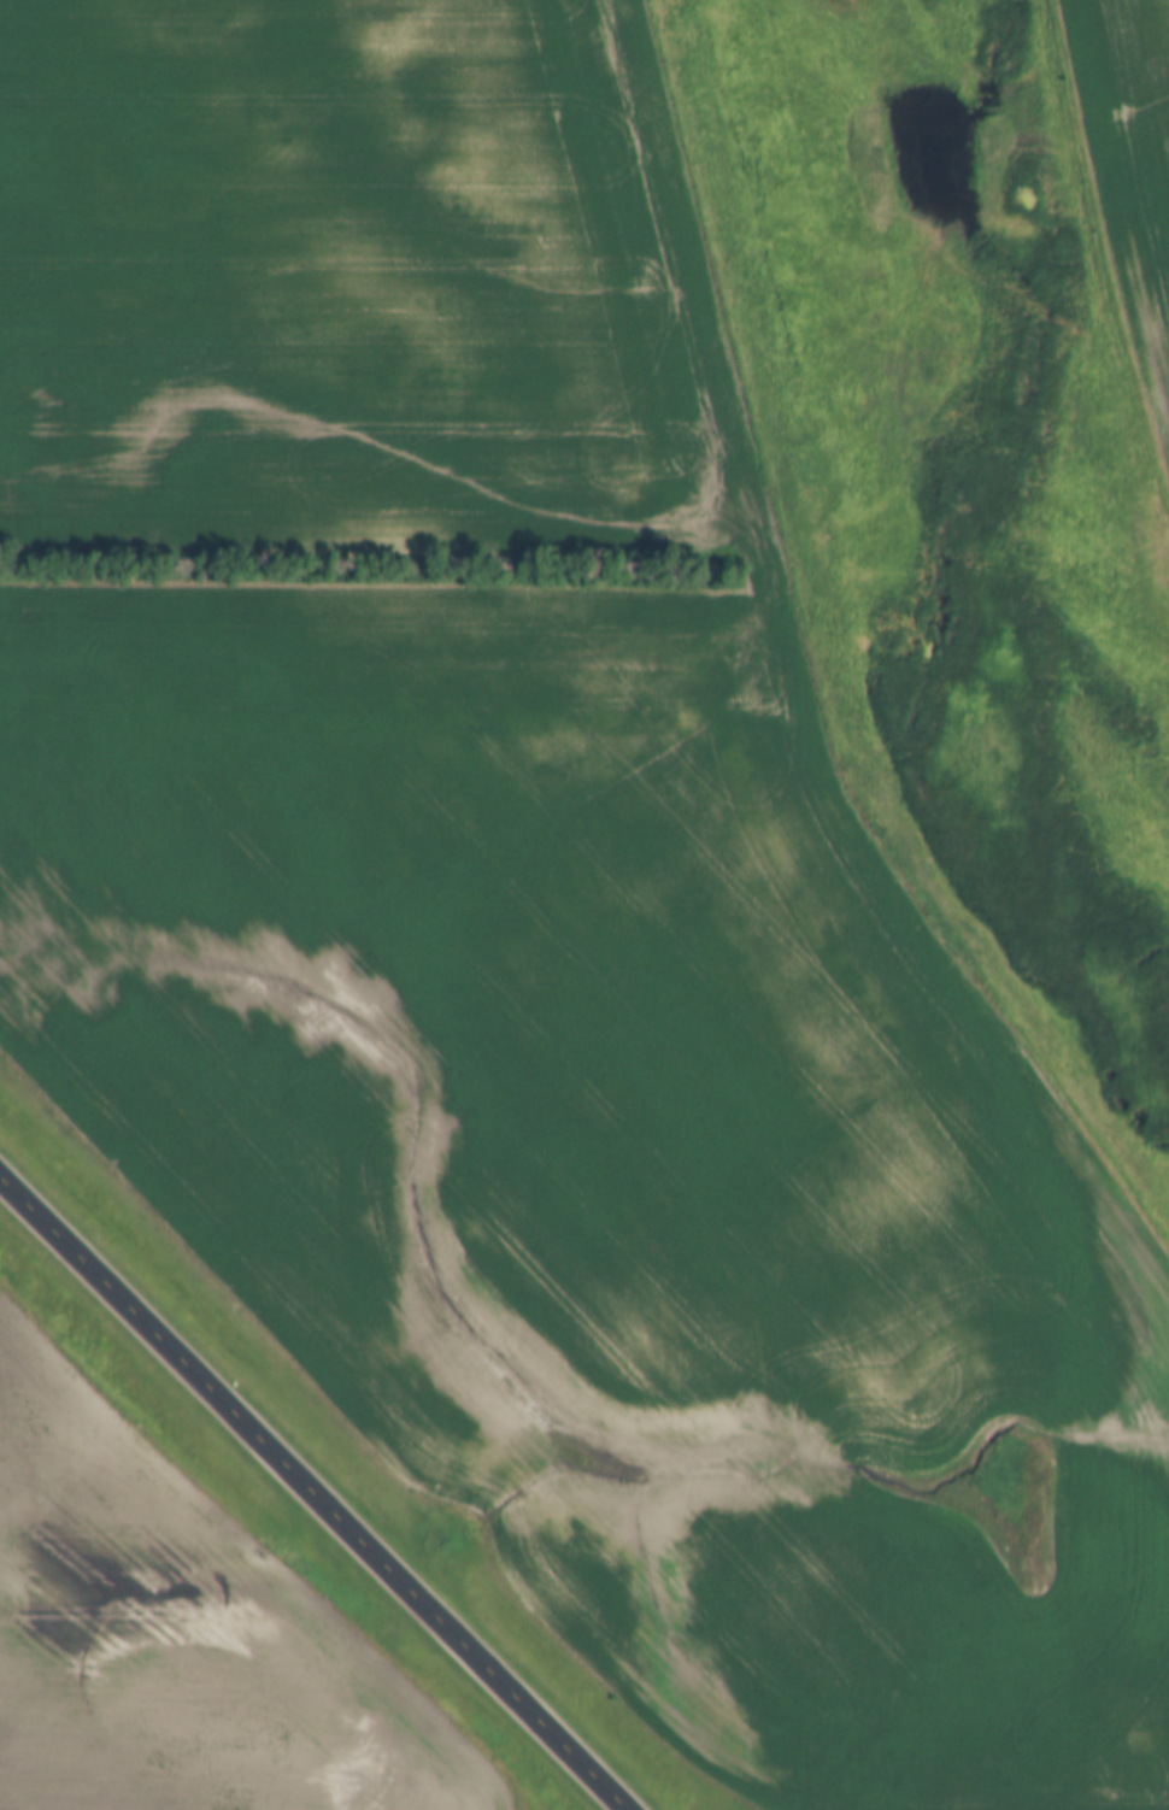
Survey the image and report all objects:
river: (1004, 72)
river: (924, 176)
river: (910, 768)
road: (313, 1494)

